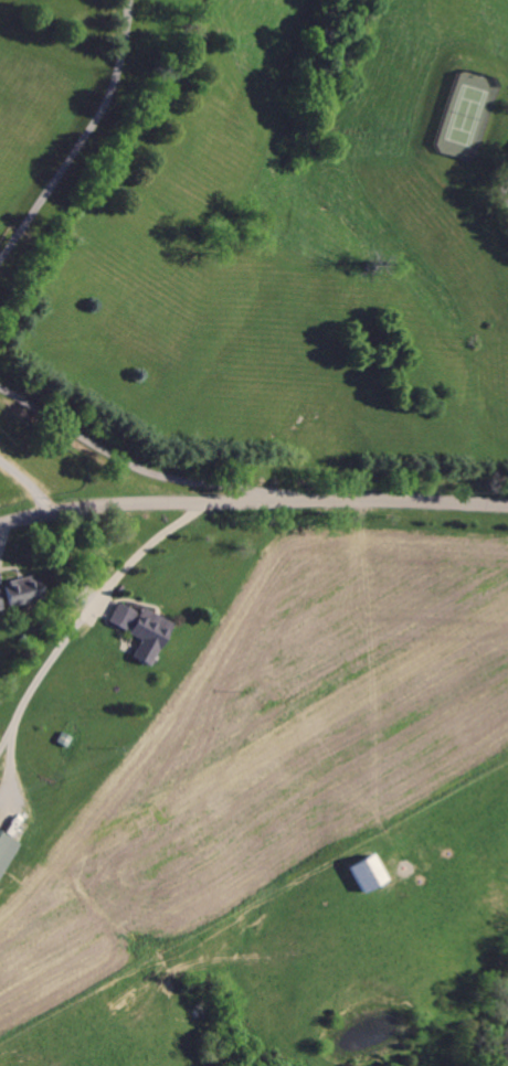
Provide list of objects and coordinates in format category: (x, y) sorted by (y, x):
road: (85, 140)
road: (507, 192)
road: (121, 452)
road: (253, 501)
building: (24, 589)
building: (1, 599)
road: (85, 618)
building: (147, 631)
building: (7, 850)
building: (370, 872)

